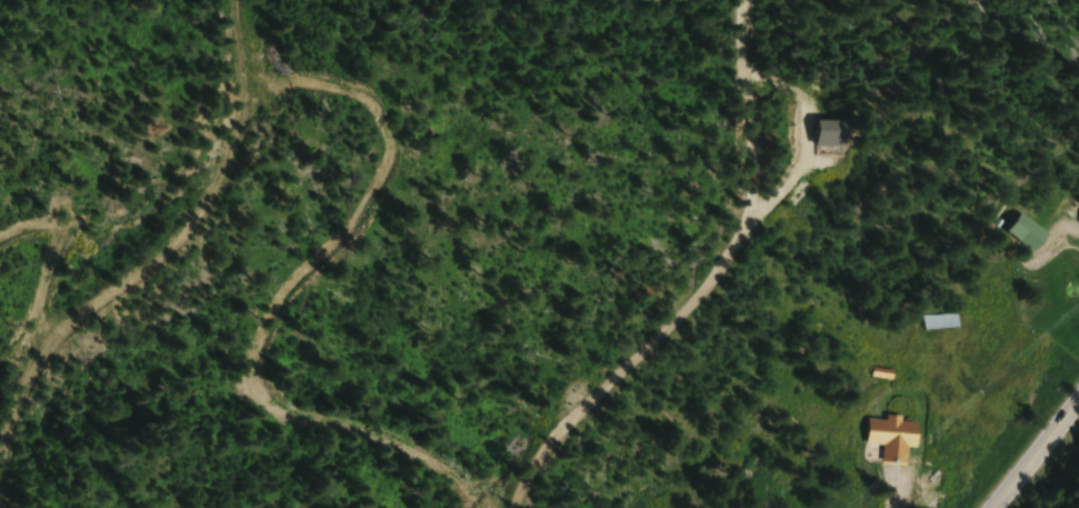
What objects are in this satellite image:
building: (833, 135)
building: (1029, 233)
building: (941, 321)
building: (893, 438)
road: (1030, 449)

